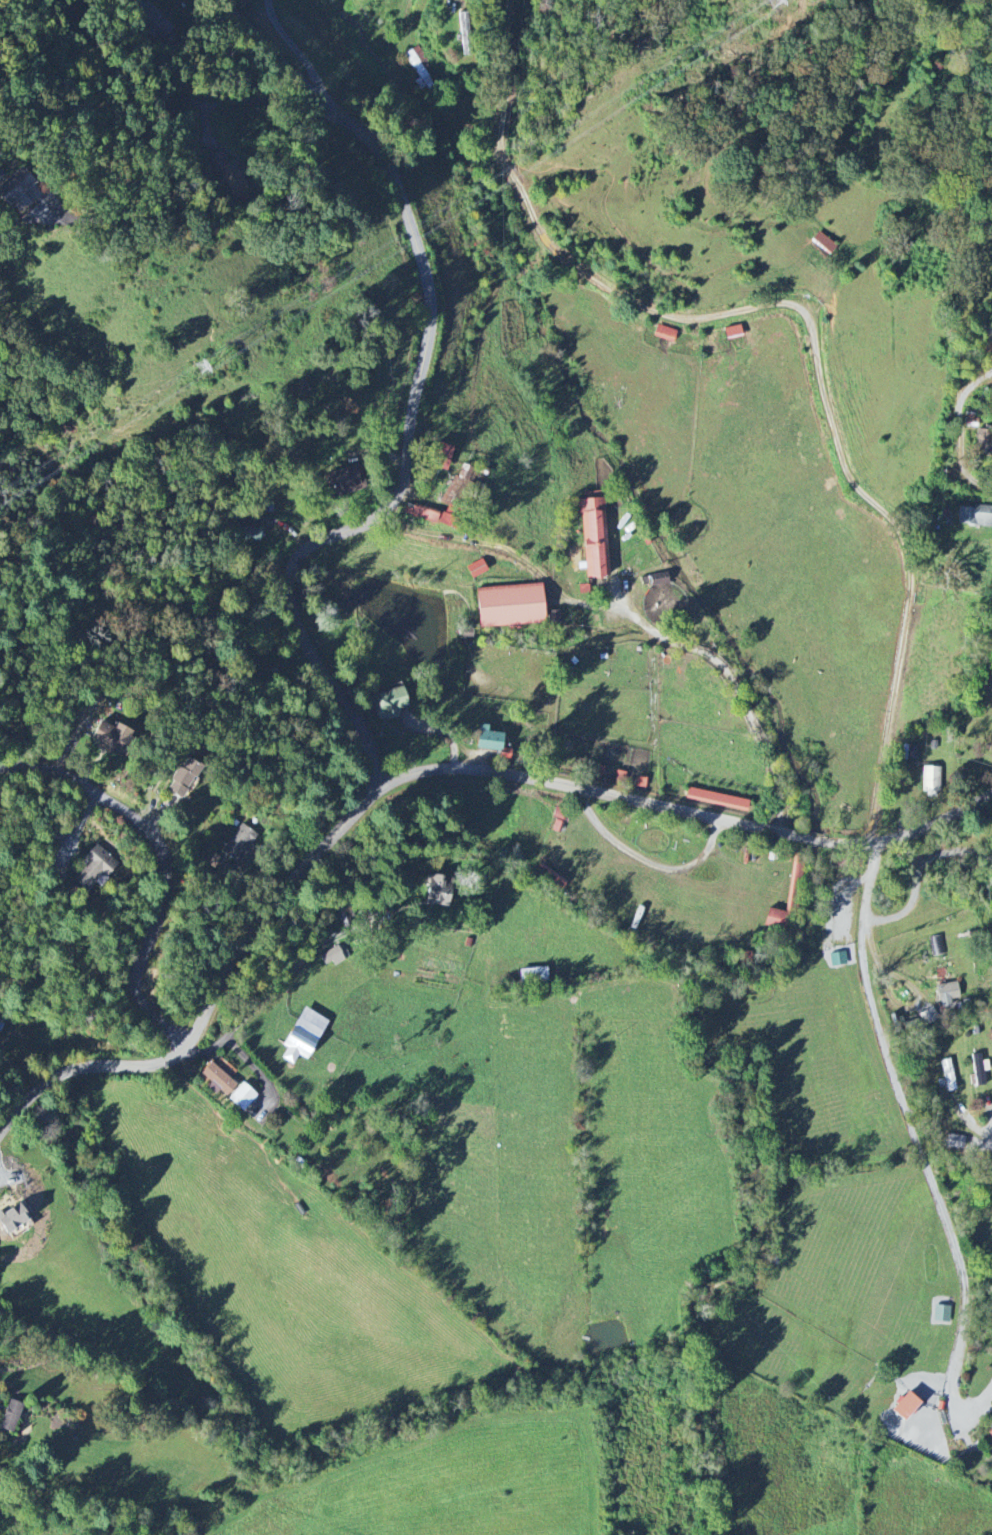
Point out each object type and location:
power tower: (767, 0)
building: (465, 35)
road: (295, 47)
building: (420, 66)
road: (150, 148)
building: (18, 190)
building: (823, 243)
road: (807, 323)
building: (733, 332)
building: (665, 333)
power tower: (207, 367)
road: (413, 398)
building: (972, 420)
building: (982, 442)
building: (440, 457)
building: (342, 480)
building: (449, 501)
building: (975, 516)
building: (594, 533)
building: (476, 568)
building: (659, 579)
building: (510, 606)
road: (635, 613)
building: (552, 617)
building: (390, 703)
building: (111, 738)
building: (489, 739)
road: (423, 772)
building: (183, 781)
building: (931, 781)
building: (717, 799)
road: (75, 831)
building: (238, 844)
road: (159, 866)
building: (92, 869)
building: (550, 877)
building: (439, 889)
building: (787, 899)
building: (938, 945)
building: (838, 959)
building: (533, 975)
road: (277, 986)
building: (947, 994)
building: (929, 1016)
building: (2, 1023)
building: (311, 1024)
building: (295, 1047)
road: (53, 1055)
building: (978, 1070)
building: (216, 1079)
road: (903, 1093)
building: (242, 1096)
building: (12, 1219)
building: (942, 1314)
building: (904, 1407)
building: (11, 1416)
building: (990, 1434)

